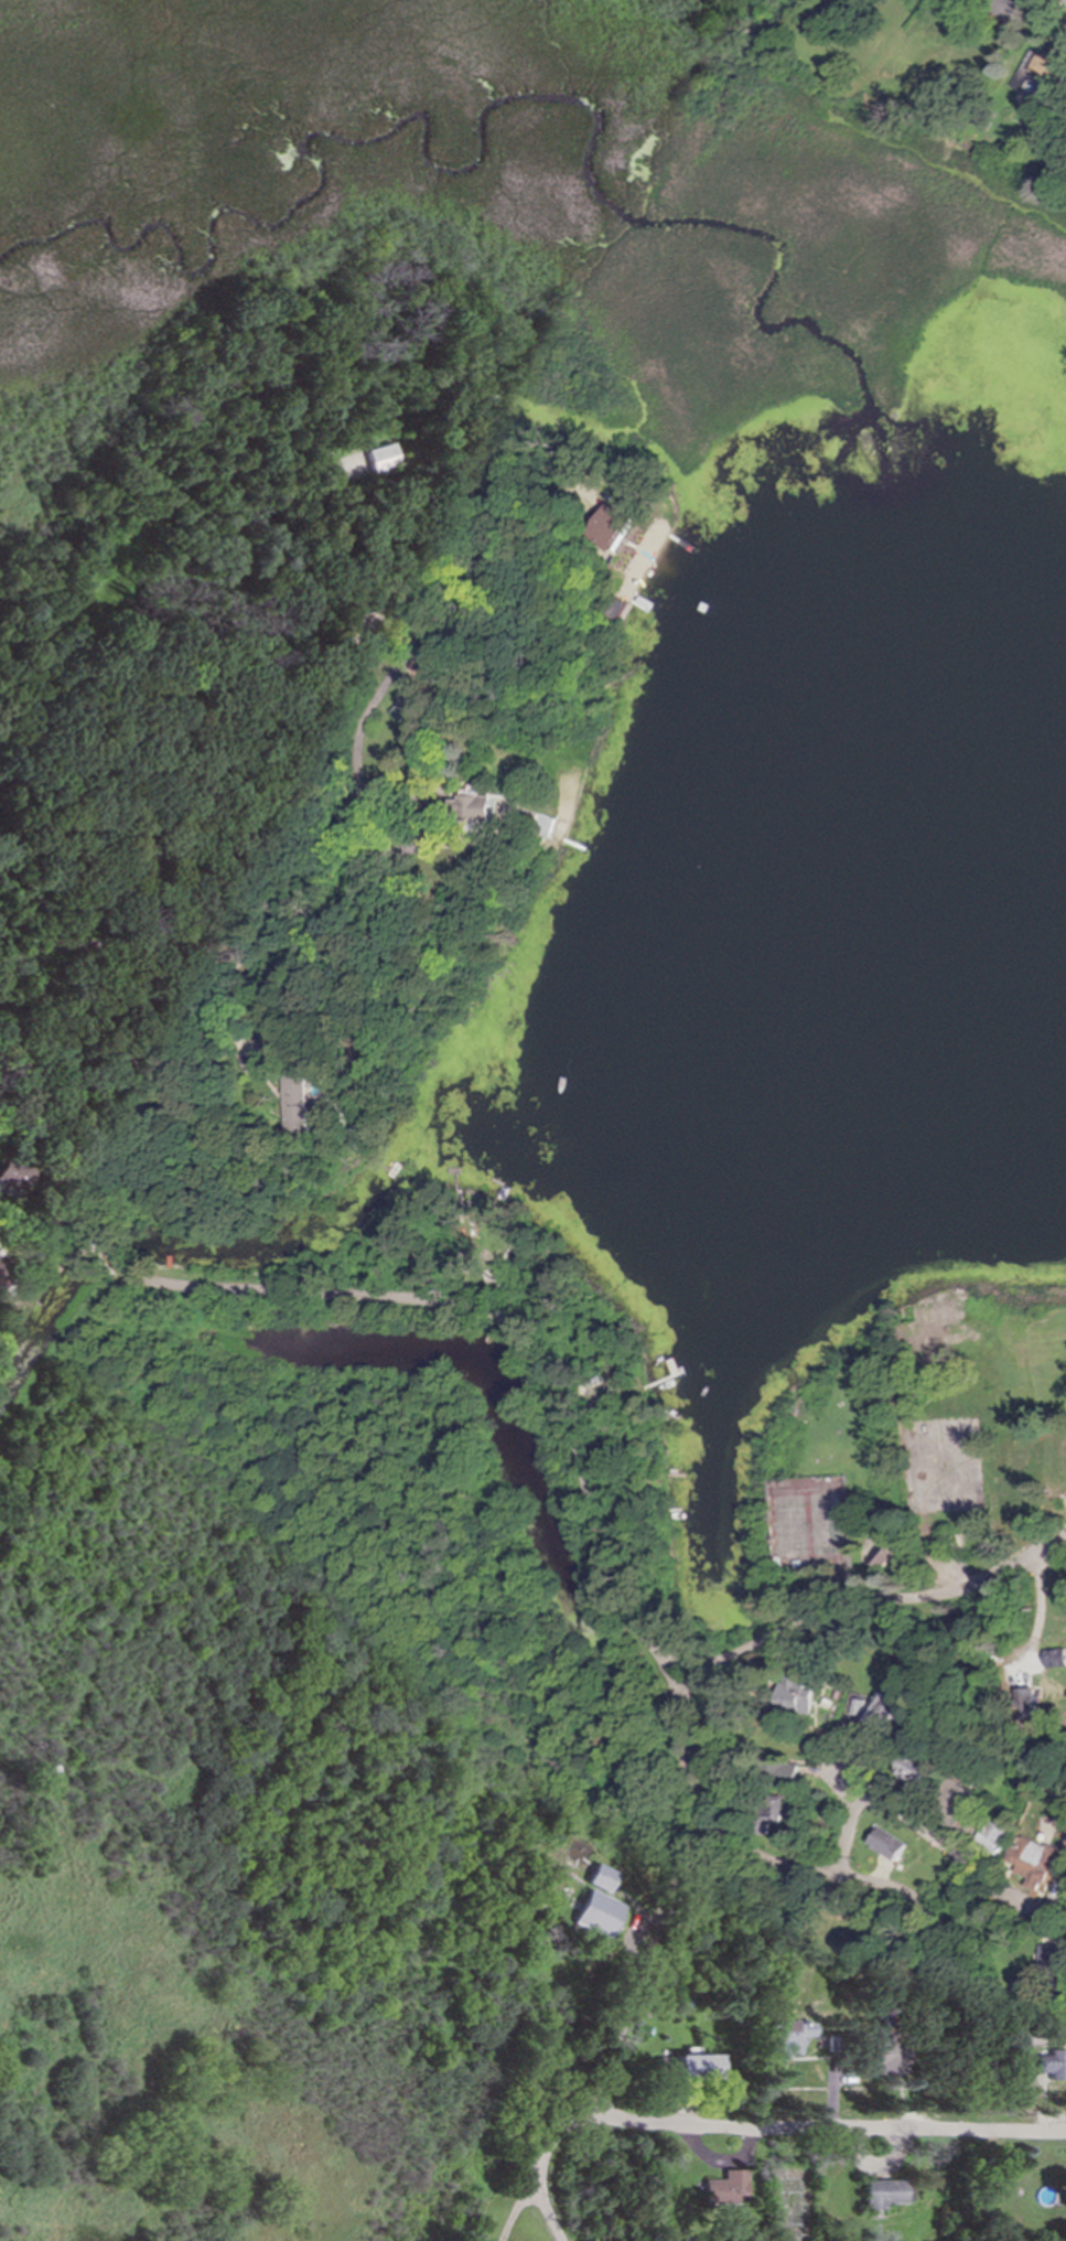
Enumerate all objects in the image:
building: (1008, 8)
building: (1022, 82)
building: (384, 458)
building: (614, 528)
building: (481, 807)
road: (407, 821)
road: (359, 862)
road: (3, 1051)
building: (303, 1106)
road: (52, 1146)
building: (12, 1177)
road: (116, 1259)
building: (2, 1272)
road: (497, 1326)
building: (883, 1556)
road: (890, 1594)
building: (1055, 1658)
road: (689, 1659)
road: (669, 1681)
road: (691, 1683)
building: (798, 1695)
building: (916, 1770)
road: (846, 1774)
building: (790, 1776)
building: (958, 1805)
building: (774, 1812)
road: (925, 1835)
building: (994, 1836)
building: (886, 1843)
road: (751, 1852)
building: (1035, 1862)
building: (603, 1877)
building: (599, 1913)
road: (951, 1955)
building: (1052, 1959)
road: (629, 1988)
building: (789, 2037)
building: (893, 2055)
building: (1055, 2065)
building: (698, 2066)
road: (829, 2126)
building: (726, 2189)
building: (883, 2195)

